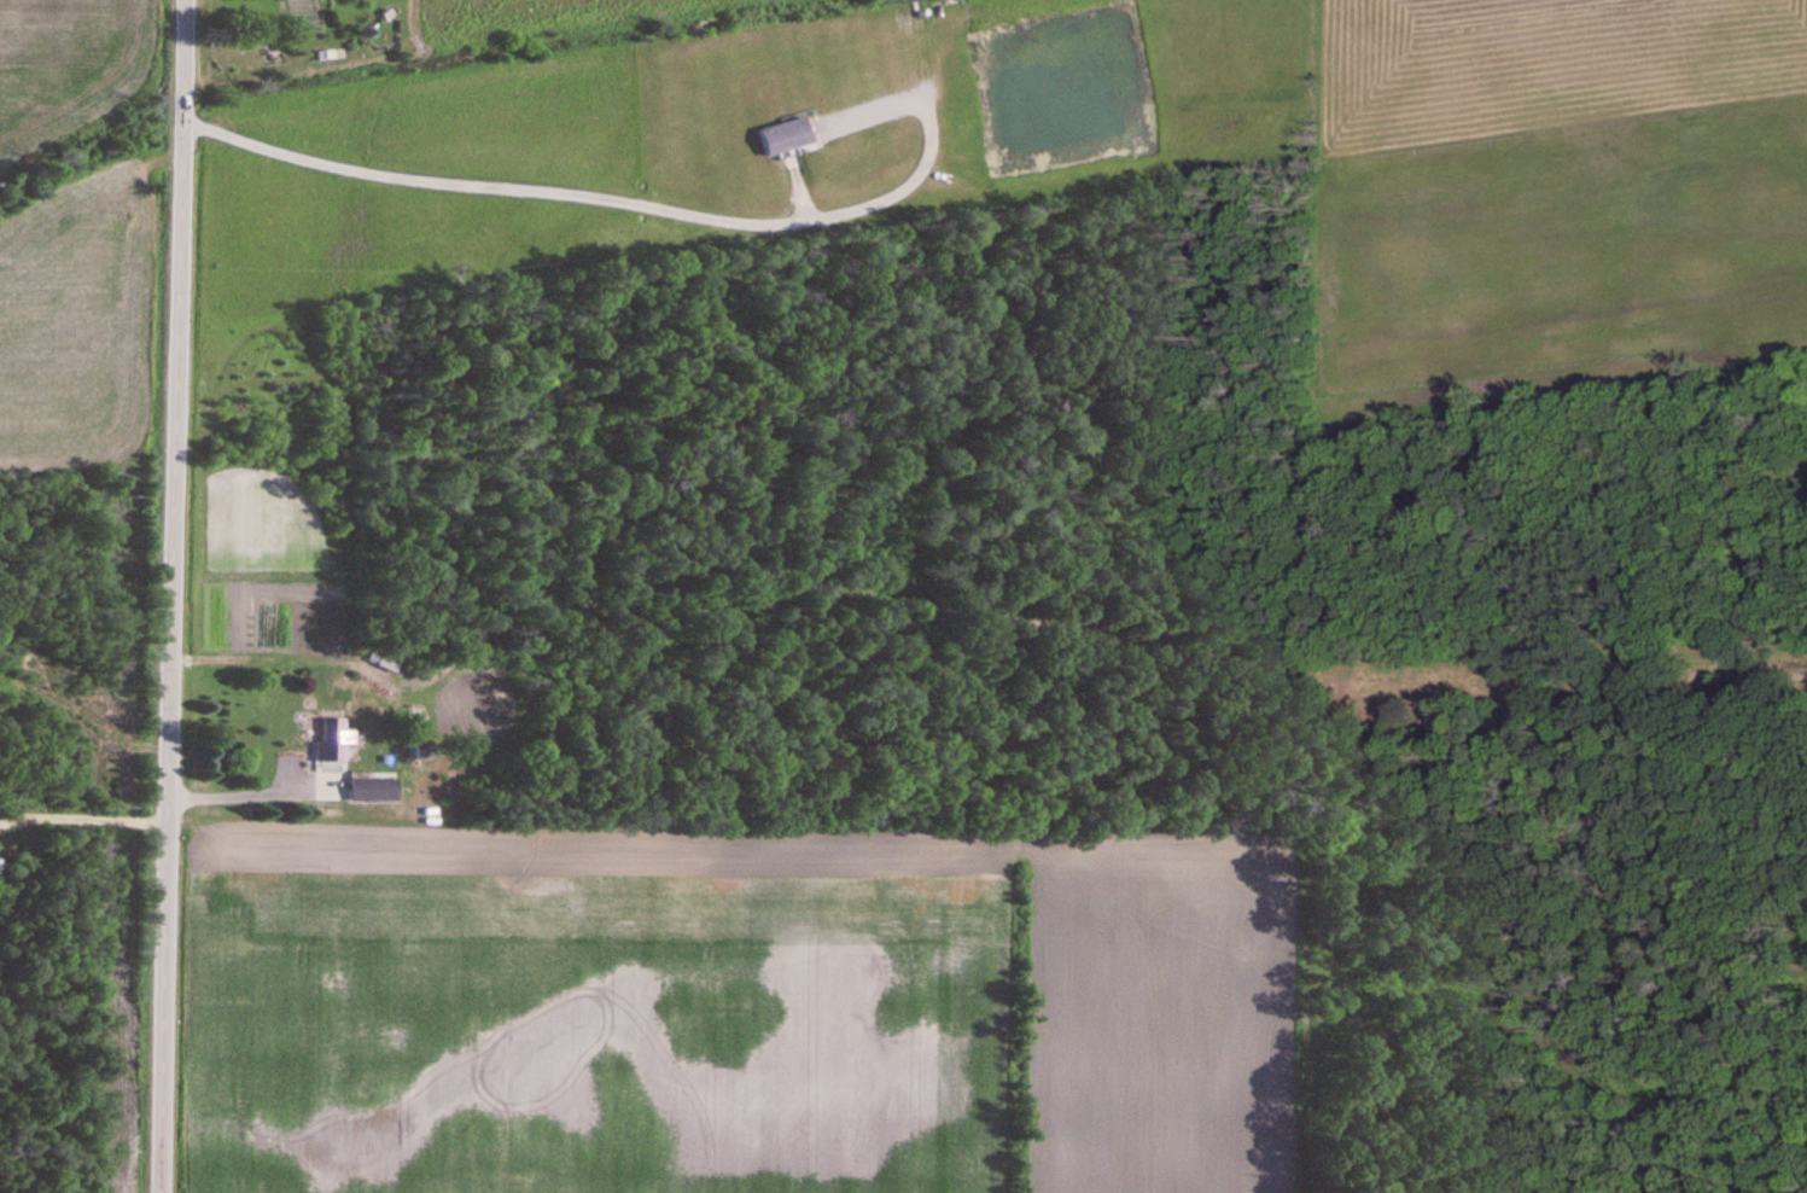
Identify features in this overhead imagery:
building: (785, 138)
road: (635, 203)
road: (173, 595)
building: (333, 738)
building: (374, 787)

